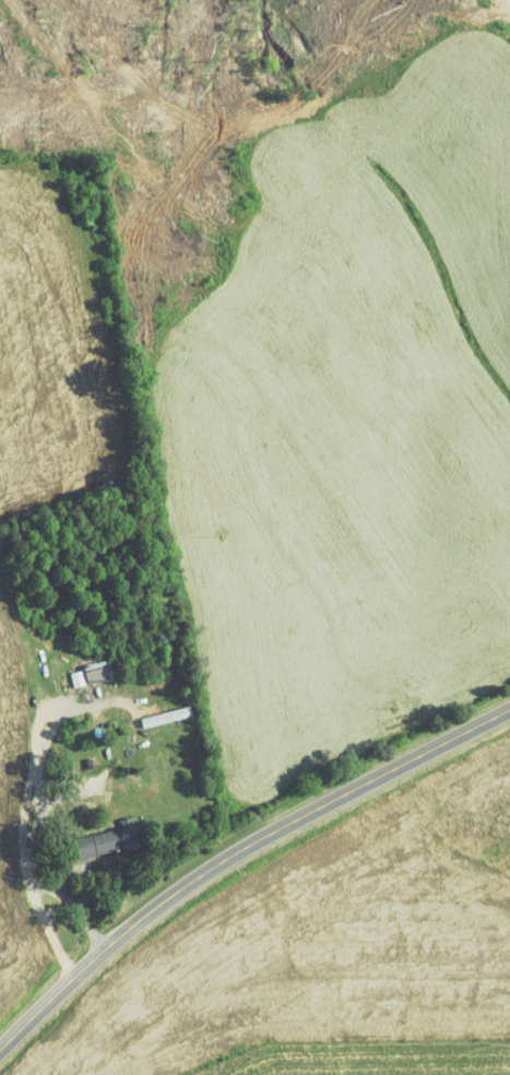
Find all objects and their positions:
building: (86, 673)
road: (48, 815)
building: (97, 842)
road: (237, 853)
road: (92, 901)

